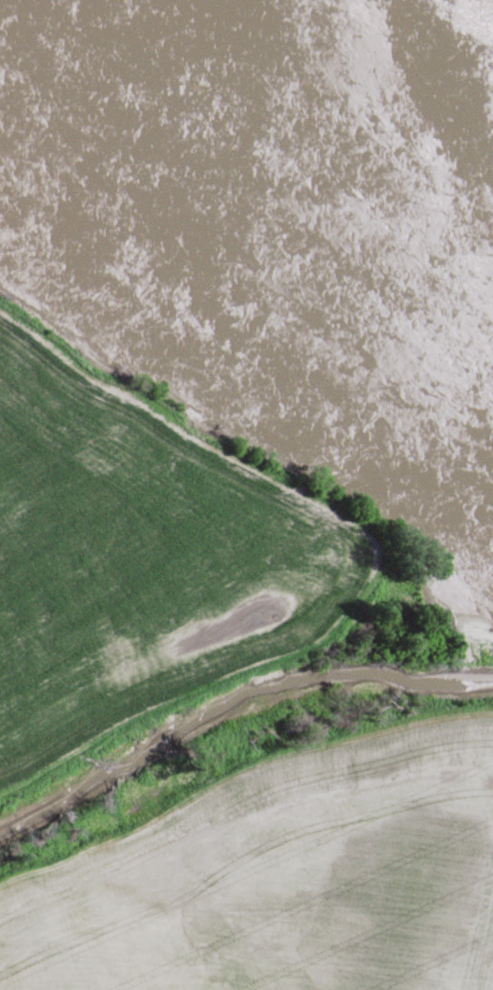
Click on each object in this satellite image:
river: (293, 104)

